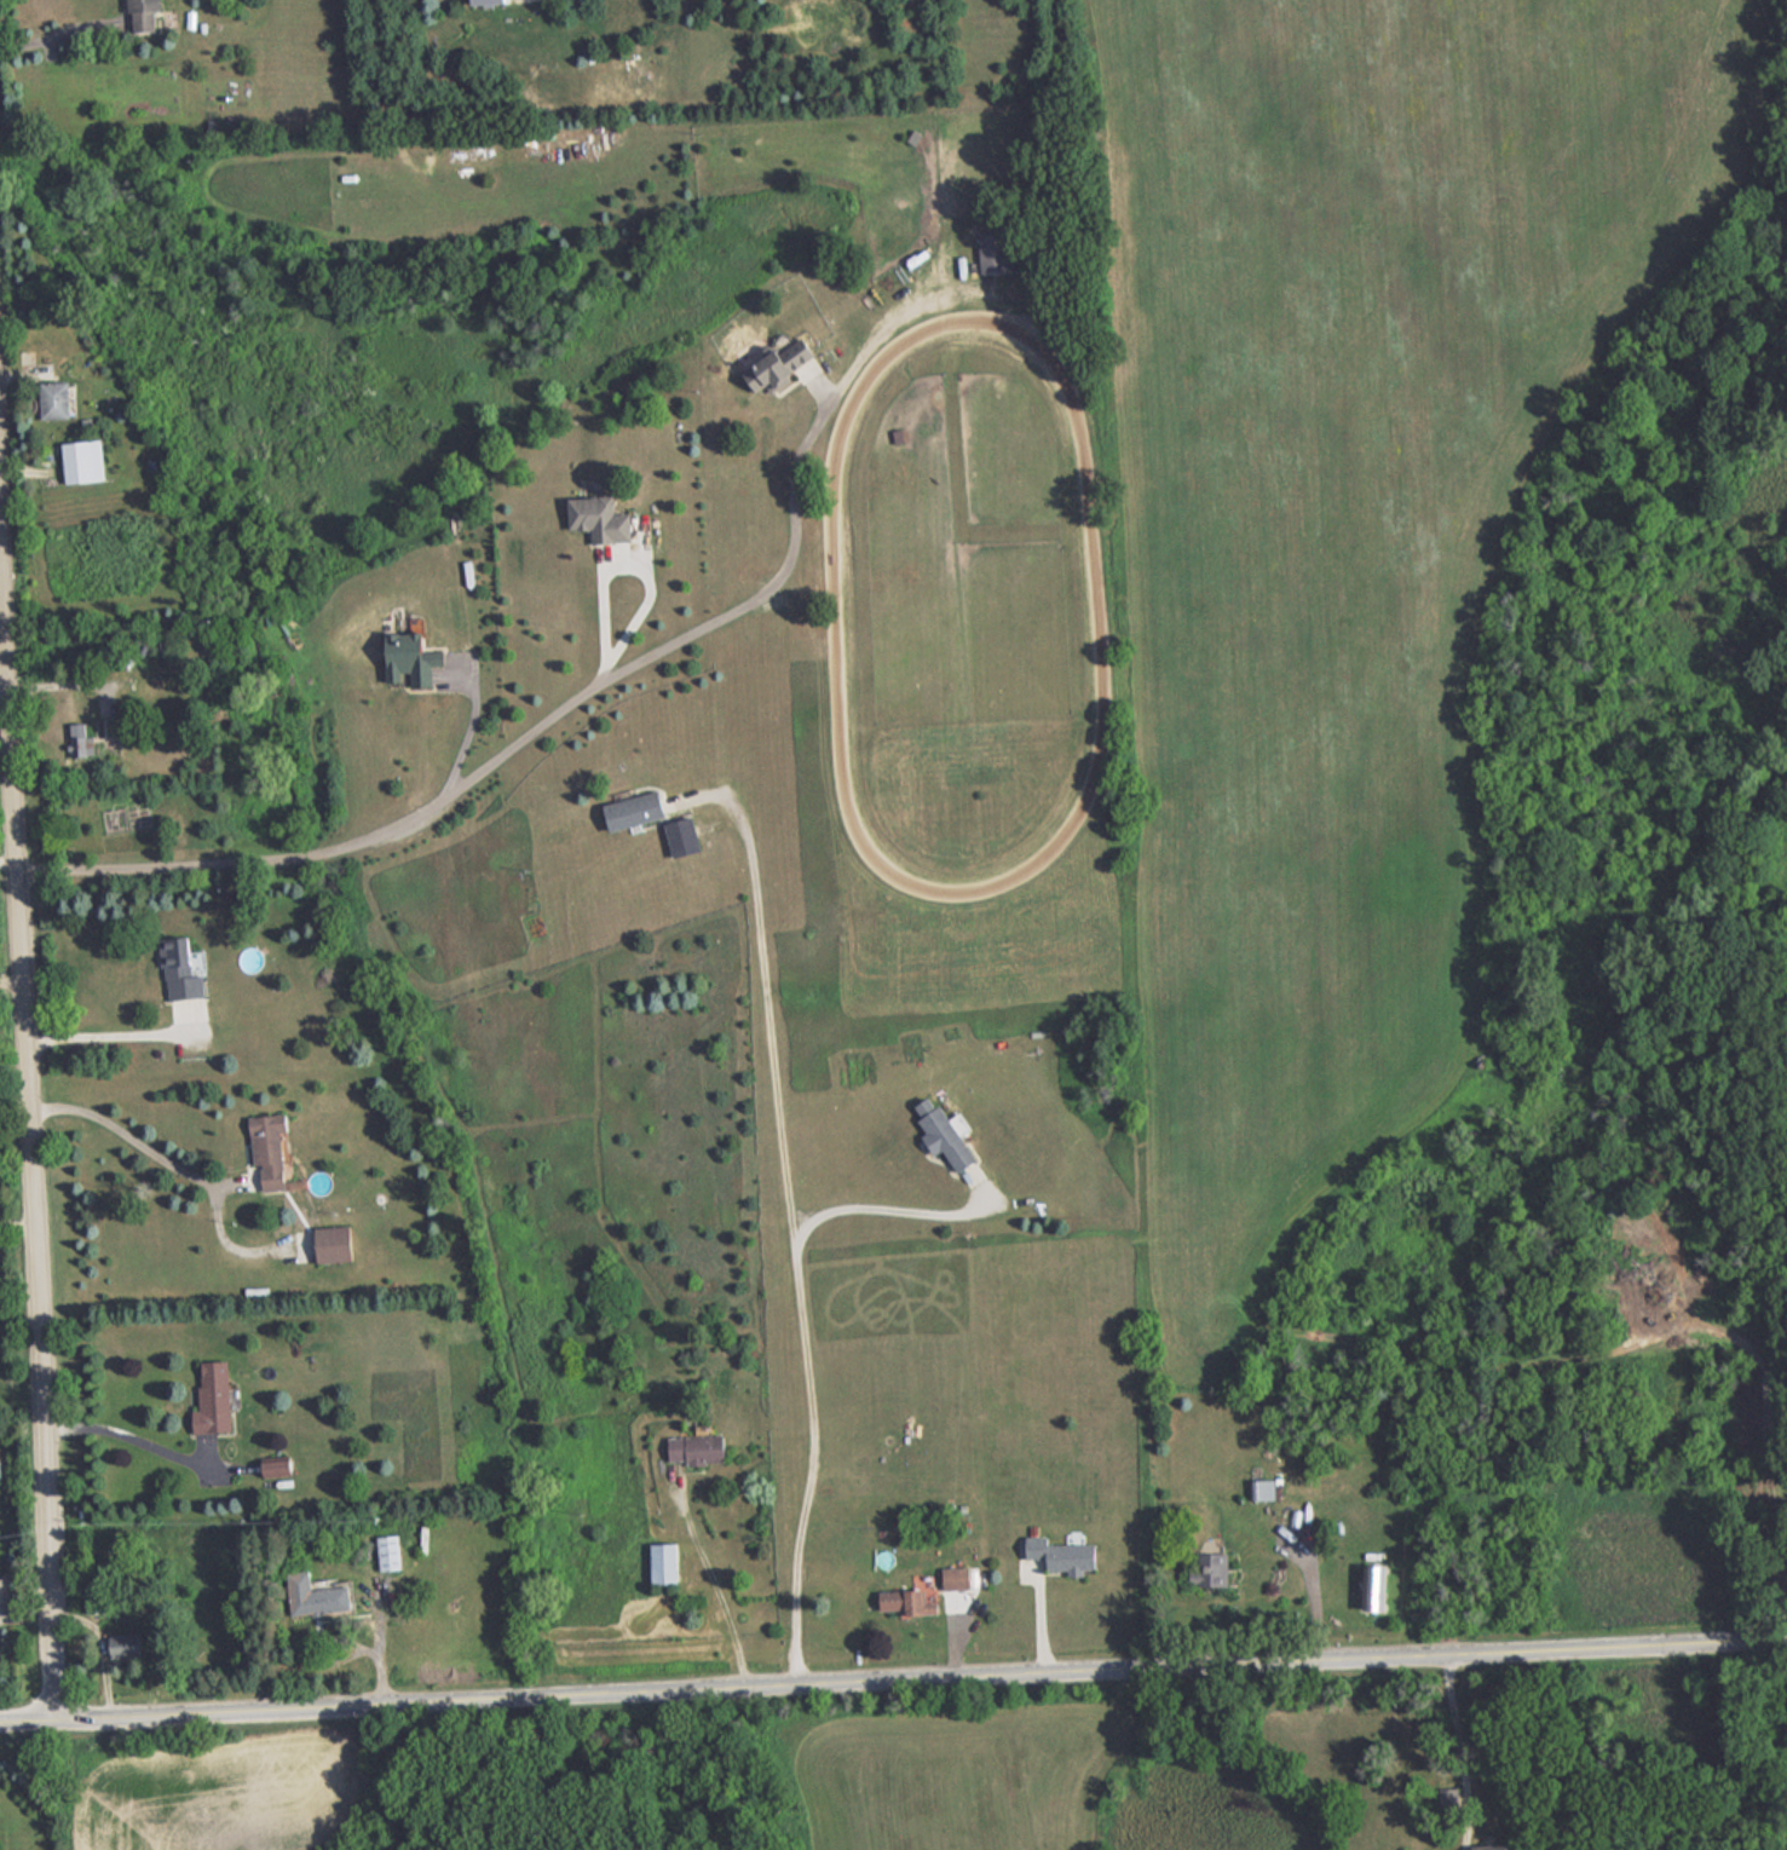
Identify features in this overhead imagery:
building: (490, 2)
building: (148, 15)
road: (57, 35)
building: (996, 250)
building: (772, 373)
building: (56, 400)
building: (603, 519)
road: (0, 563)
road: (71, 680)
road: (589, 685)
road: (4, 696)
building: (82, 739)
building: (639, 809)
building: (686, 836)
road: (7, 863)
building: (183, 968)
road: (108, 1034)
road: (28, 1128)
road: (125, 1133)
building: (947, 1133)
building: (273, 1152)
road: (880, 1209)
road: (792, 1237)
building: (215, 1396)
road: (121, 1424)
building: (699, 1448)
building: (391, 1551)
building: (1065, 1554)
building: (665, 1563)
road: (717, 1574)
building: (959, 1578)
building: (1378, 1586)
building: (318, 1596)
road: (1314, 1596)
building: (907, 1602)
road: (25, 1620)
building: (132, 1643)
road: (893, 1679)
road: (1463, 1752)
building: (1492, 1846)

